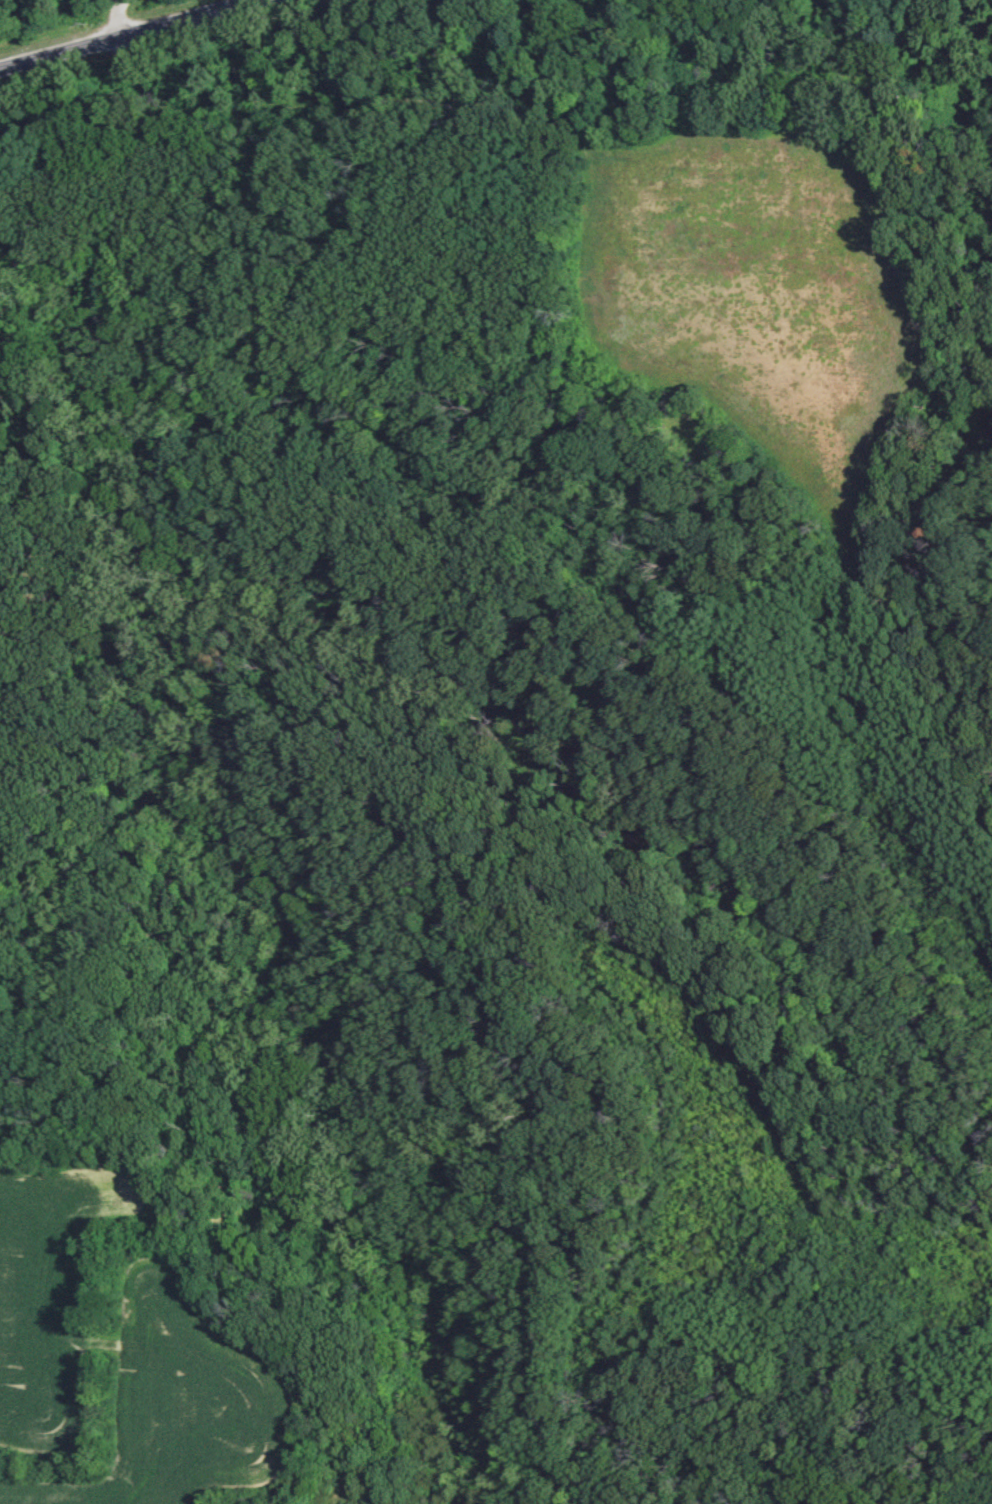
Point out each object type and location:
road: (109, 17)
road: (129, 33)

